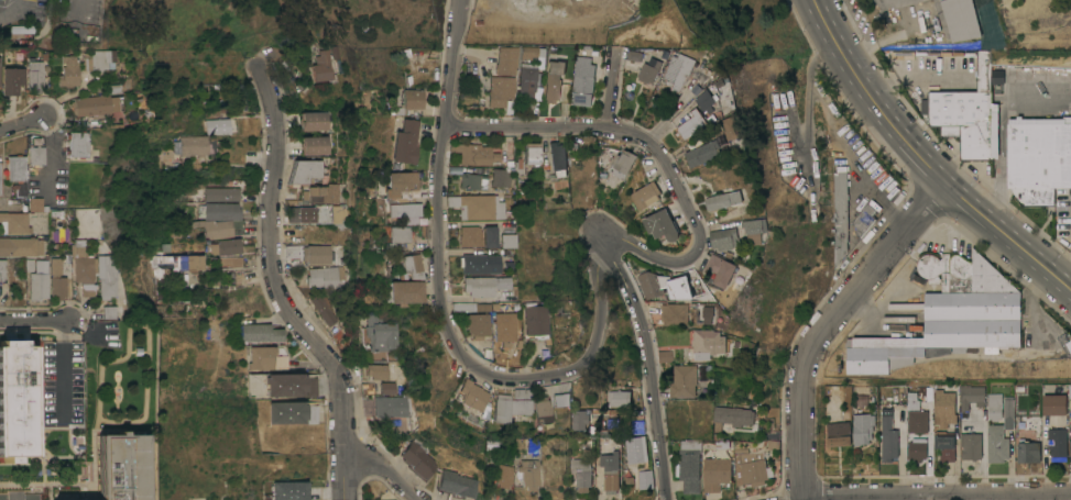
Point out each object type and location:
road: (14, 10)
road: (551, 19)
building: (960, 19)
building: (78, 21)
park: (223, 21)
building: (21, 29)
building: (532, 52)
building: (96, 59)
building: (323, 66)
building: (648, 70)
building: (678, 71)
building: (68, 73)
building: (502, 75)
building: (34, 76)
building: (526, 78)
building: (11, 80)
building: (583, 82)
building: (551, 86)
road: (873, 98)
building: (409, 100)
building: (706, 101)
road: (807, 104)
building: (90, 105)
building: (966, 114)
building: (314, 121)
road: (23, 123)
building: (691, 124)
building: (215, 126)
road: (525, 129)
building: (723, 129)
building: (405, 143)
building: (77, 144)
building: (192, 145)
building: (315, 145)
building: (476, 153)
building: (529, 153)
building: (702, 153)
building: (1038, 153)
road: (48, 154)
building: (36, 155)
building: (557, 159)
building: (622, 164)
building: (15, 168)
building: (306, 170)
building: (500, 178)
building: (401, 181)
building: (472, 181)
building: (174, 193)
building: (226, 193)
building: (647, 195)
building: (723, 200)
building: (324, 201)
building: (35, 204)
building: (477, 207)
building: (405, 209)
building: (298, 214)
building: (840, 214)
building: (220, 220)
building: (863, 220)
building: (14, 222)
building: (662, 226)
building: (754, 230)
building: (506, 233)
building: (400, 234)
building: (470, 236)
building: (489, 236)
road: (1008, 236)
building: (724, 238)
building: (21, 246)
building: (229, 246)
road: (637, 248)
building: (317, 254)
building: (228, 262)
building: (480, 263)
building: (175, 264)
building: (22, 267)
building: (413, 267)
building: (721, 269)
building: (2, 270)
road: (272, 270)
building: (84, 273)
road: (1064, 273)
building: (327, 278)
building: (39, 280)
building: (57, 280)
building: (651, 284)
building: (678, 288)
building: (489, 289)
building: (406, 292)
building: (471, 307)
building: (325, 308)
road: (441, 308)
building: (107, 312)
building: (561, 313)
building: (674, 314)
building: (707, 314)
building: (950, 315)
road: (34, 321)
building: (535, 321)
road: (824, 323)
building: (477, 324)
building: (504, 327)
building: (262, 333)
building: (380, 335)
building: (707, 343)
building: (938, 352)
building: (450, 354)
building: (665, 356)
building: (262, 357)
road: (64, 368)
building: (384, 371)
building: (684, 380)
building: (285, 385)
building: (312, 386)
building: (391, 388)
building: (472, 395)
building: (846, 396)
building: (971, 396)
building: (619, 398)
building: (15, 399)
building: (561, 400)
building: (522, 401)
building: (914, 401)
building: (944, 404)
building: (1054, 404)
building: (994, 405)
building: (392, 407)
building: (501, 408)
building: (543, 409)
building: (287, 412)
building: (1008, 412)
building: (312, 413)
building: (732, 416)
building: (580, 420)
building: (918, 421)
building: (637, 426)
building: (863, 429)
building: (839, 434)
building: (888, 436)
building: (1058, 443)
building: (587, 444)
building: (997, 444)
building: (946, 445)
building: (971, 446)
building: (636, 449)
building: (917, 449)
building: (1028, 453)
building: (419, 459)
building: (121, 466)
building: (689, 466)
road: (385, 467)
building: (751, 467)
building: (583, 473)
building: (609, 473)
building: (717, 473)
building: (528, 474)
building: (504, 476)
building: (645, 479)
road: (346, 480)
building: (458, 484)
building: (288, 490)
road: (929, 495)
road: (15, 498)

